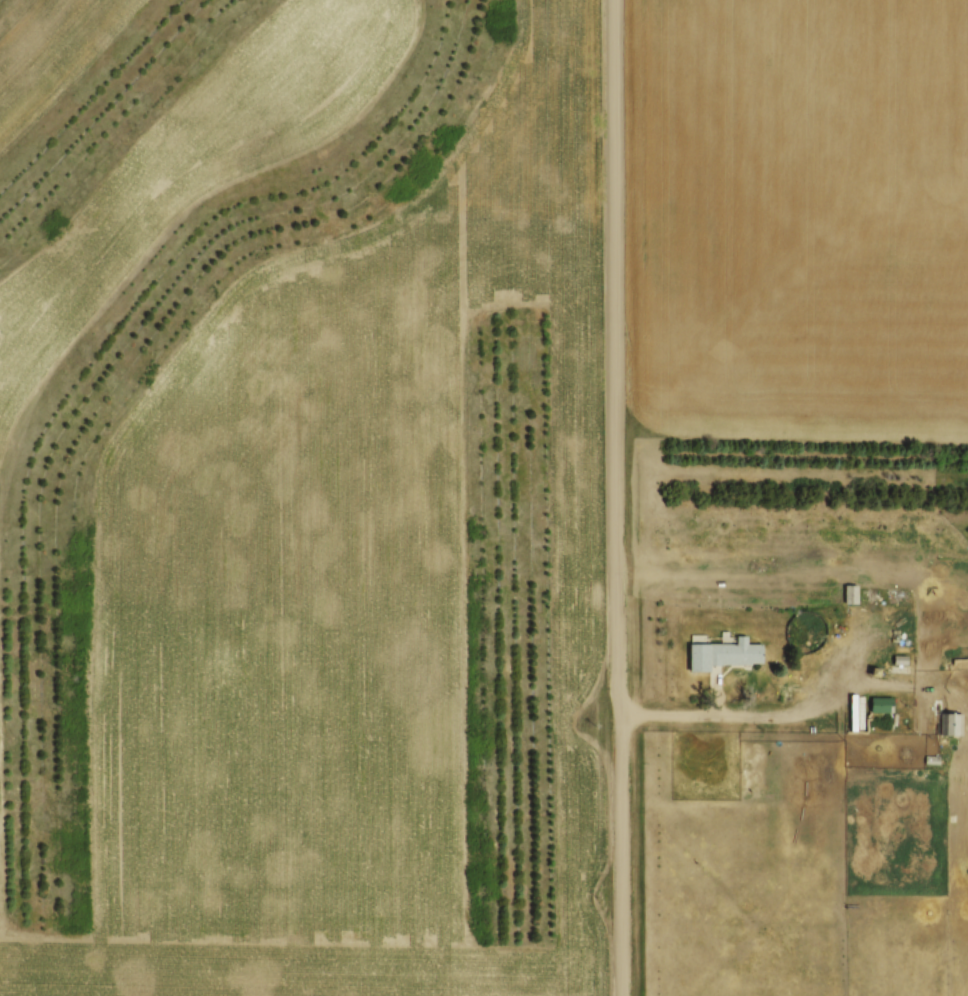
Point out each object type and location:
crop: (796, 217)
road: (617, 498)
building: (850, 591)
building: (724, 651)
building: (899, 656)
building: (882, 702)
road: (797, 711)
building: (952, 721)
building: (931, 757)

